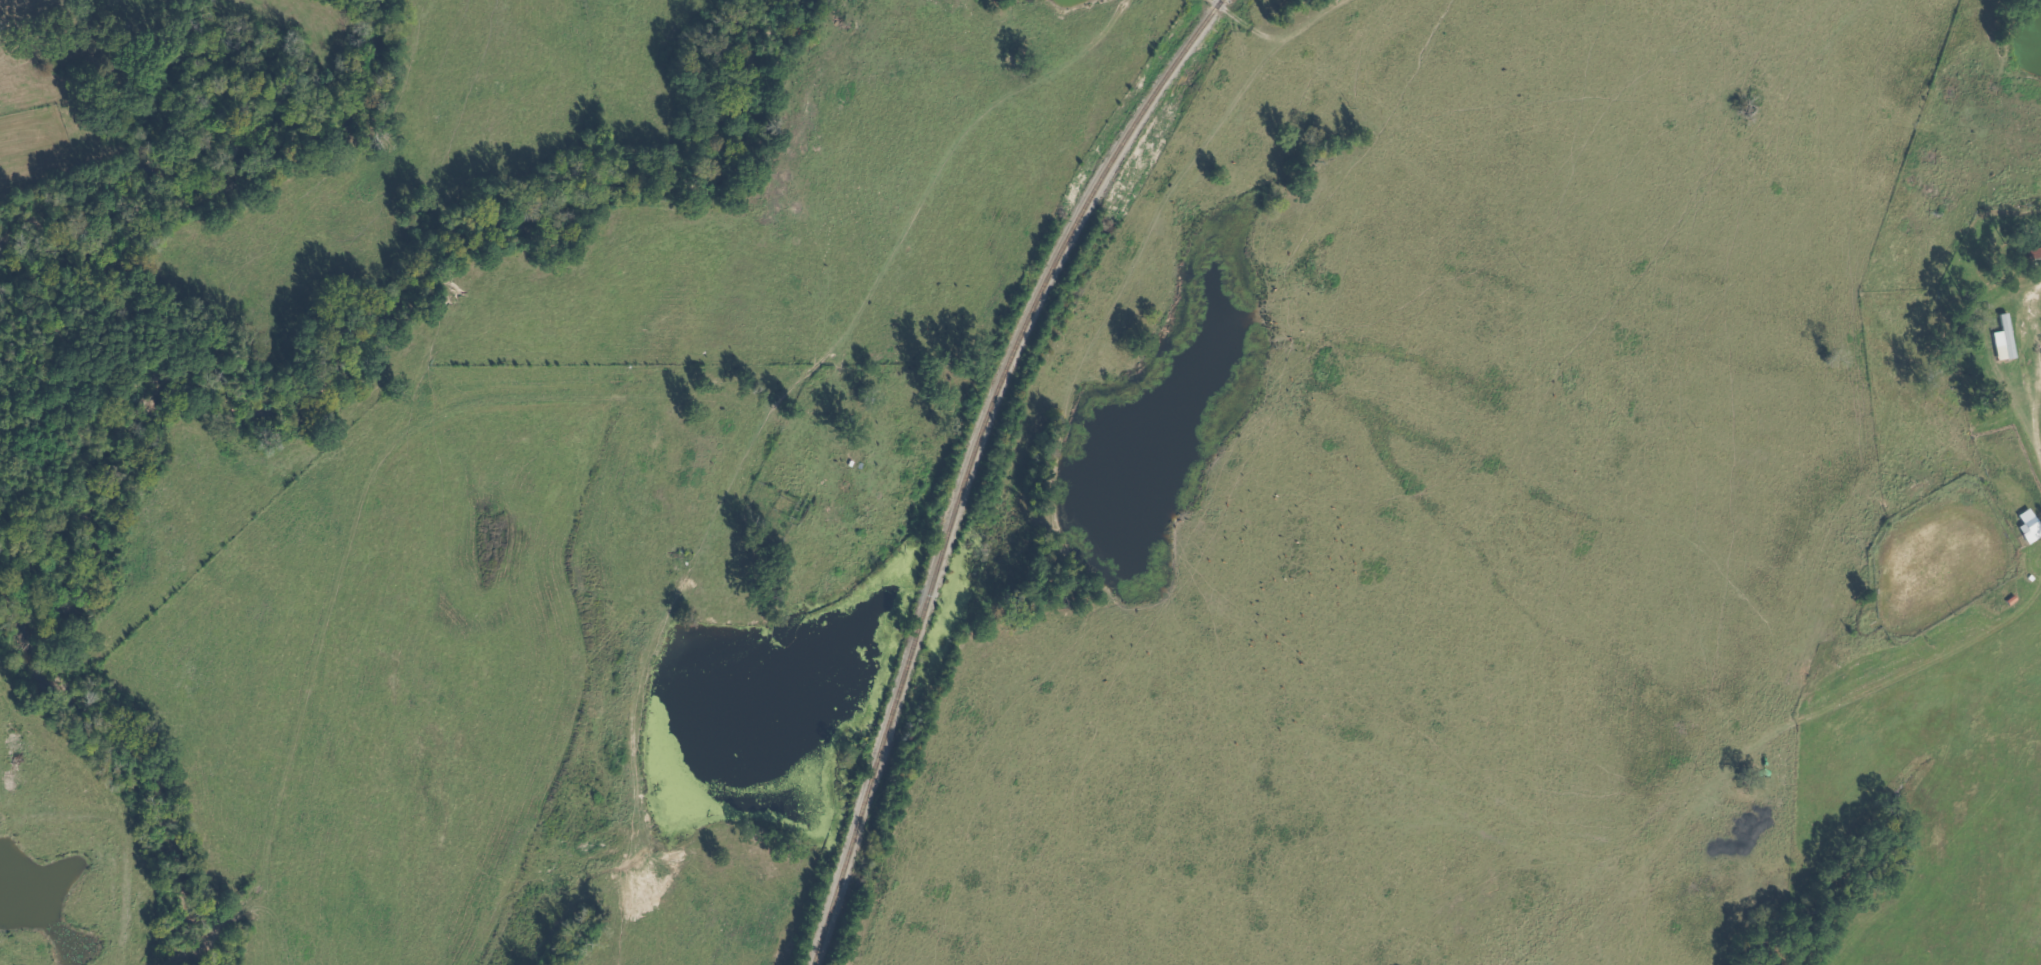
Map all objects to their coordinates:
building: (2034, 256)
building: (2005, 334)
railway: (967, 461)
building: (2030, 522)

